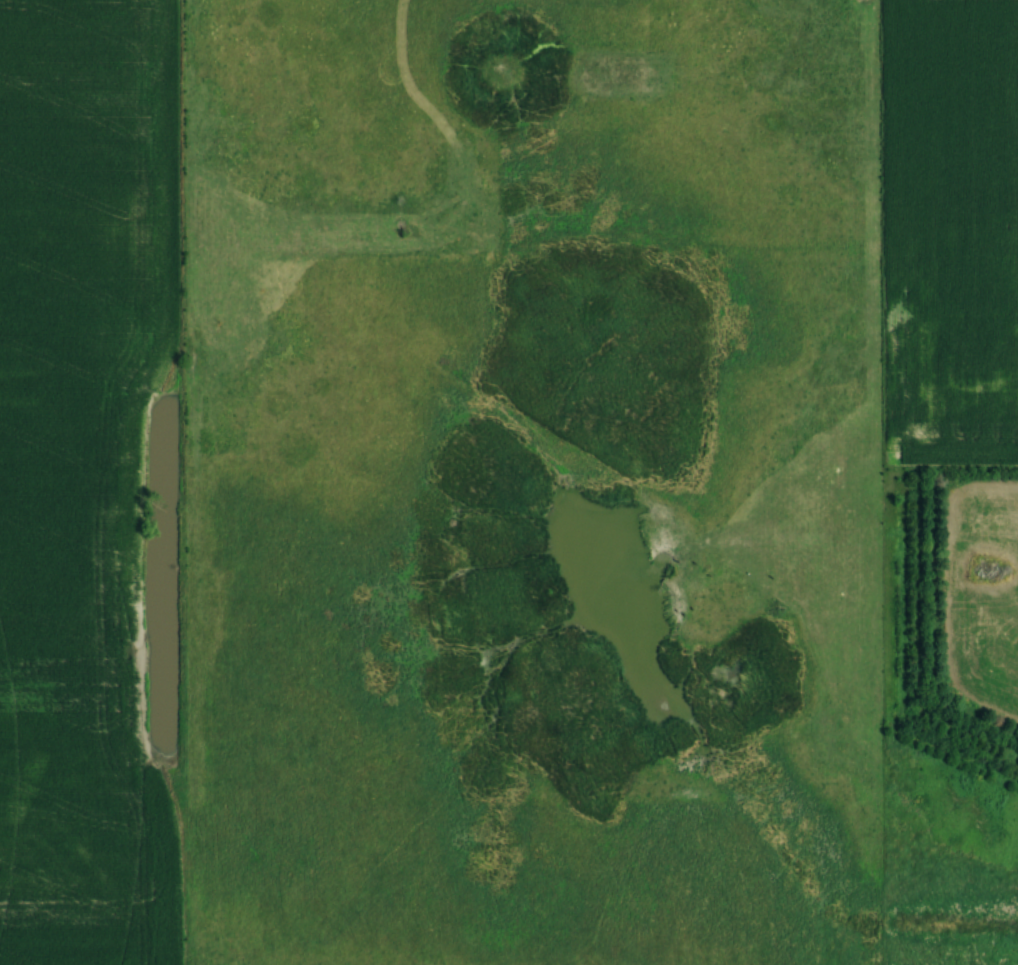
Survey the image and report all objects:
building: (985, 349)

